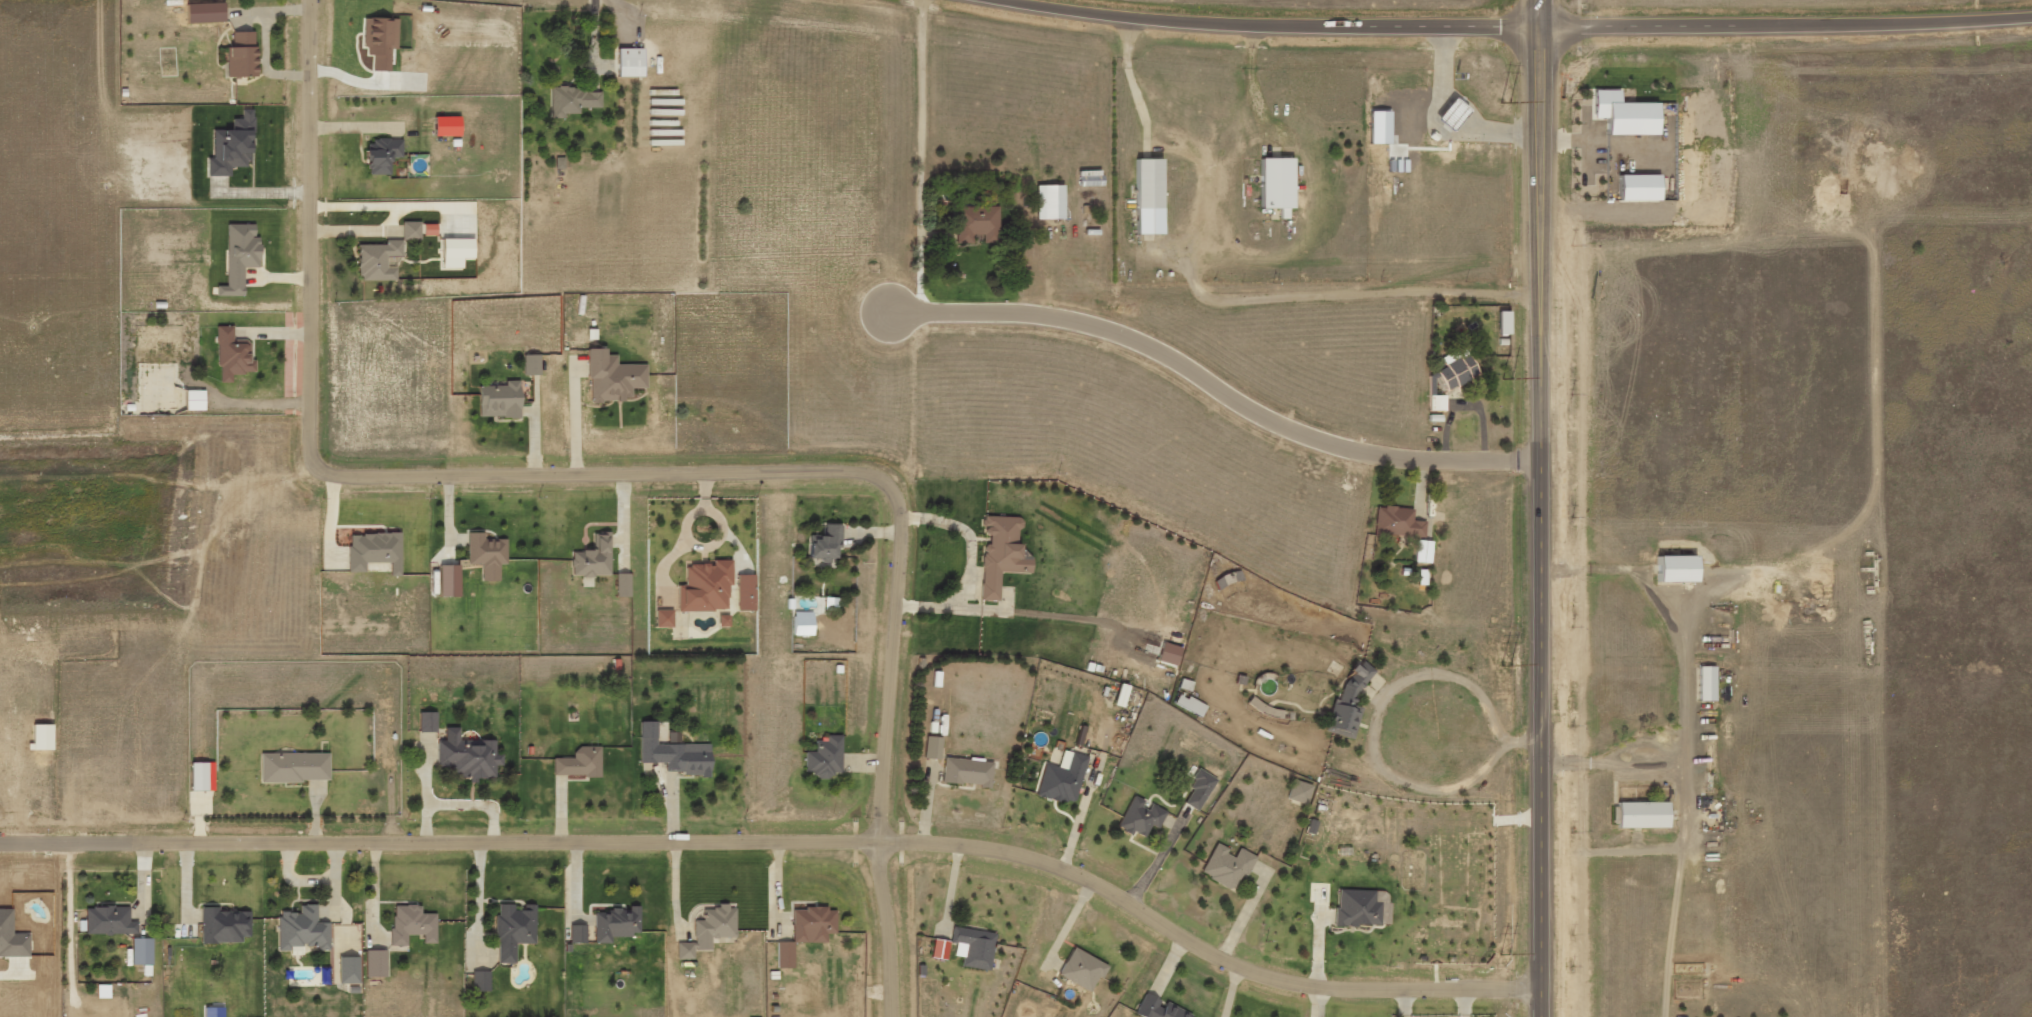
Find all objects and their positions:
building: (205, 13)
road: (1540, 13)
road: (1786, 25)
road: (1262, 26)
building: (380, 42)
building: (241, 56)
building: (629, 63)
building: (573, 101)
power tower: (1504, 108)
building: (1629, 114)
building: (1451, 115)
building: (446, 127)
building: (382, 156)
building: (1276, 185)
building: (1643, 187)
building: (1148, 197)
building: (1049, 203)
building: (977, 224)
building: (411, 231)
building: (428, 231)
building: (239, 258)
building: (378, 261)
building: (1506, 322)
building: (232, 355)
building: (531, 365)
building: (1459, 368)
building: (612, 378)
power tower: (1505, 389)
road: (1222, 393)
building: (194, 401)
building: (499, 401)
road: (641, 471)
building: (1400, 522)
road: (1541, 522)
building: (826, 548)
building: (1425, 551)
building: (374, 552)
building: (486, 555)
building: (1002, 555)
building: (593, 558)
building: (1680, 569)
building: (449, 581)
building: (623, 585)
building: (706, 587)
building: (745, 593)
building: (664, 619)
building: (724, 621)
building: (803, 624)
power tower: (1505, 672)
building: (1709, 683)
building: (1123, 695)
building: (1350, 703)
building: (1191, 704)
building: (427, 722)
building: (933, 749)
building: (674, 754)
building: (467, 757)
building: (825, 758)
building: (579, 763)
building: (294, 768)
building: (967, 772)
building: (202, 777)
building: (1064, 778)
building: (1200, 790)
building: (1300, 791)
building: (1643, 814)
building: (1142, 816)
road: (786, 839)
building: (1228, 866)
building: (1384, 900)
building: (1358, 908)
building: (109, 921)
building: (814, 921)
building: (716, 922)
building: (515, 923)
building: (618, 923)
building: (412, 924)
building: (224, 926)
building: (302, 930)
building: (577, 932)
building: (935, 949)
building: (141, 952)
power tower: (1504, 954)
building: (372, 963)
building: (1084, 969)
building: (1160, 1008)

